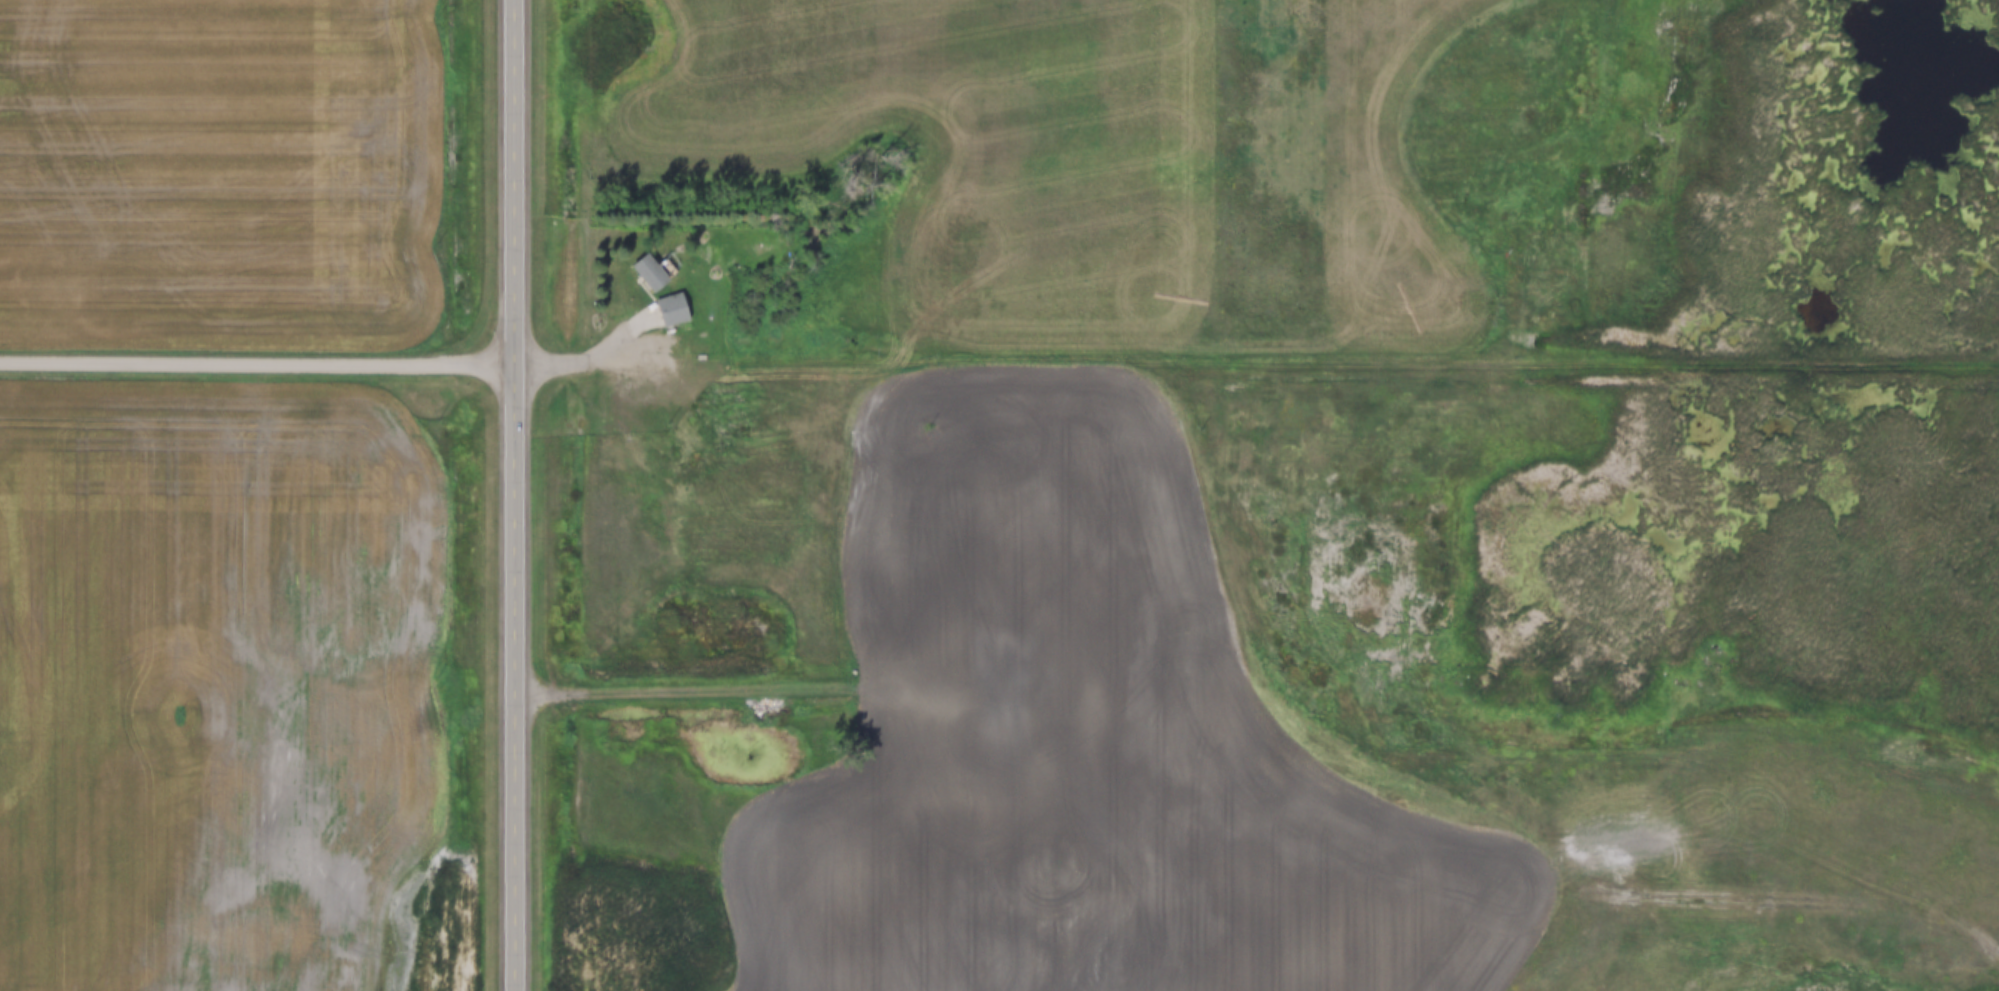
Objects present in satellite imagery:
road: (513, 183)
building: (649, 273)
building: (671, 309)
road: (584, 362)
road: (256, 365)
road: (512, 678)
building: (987, 778)

